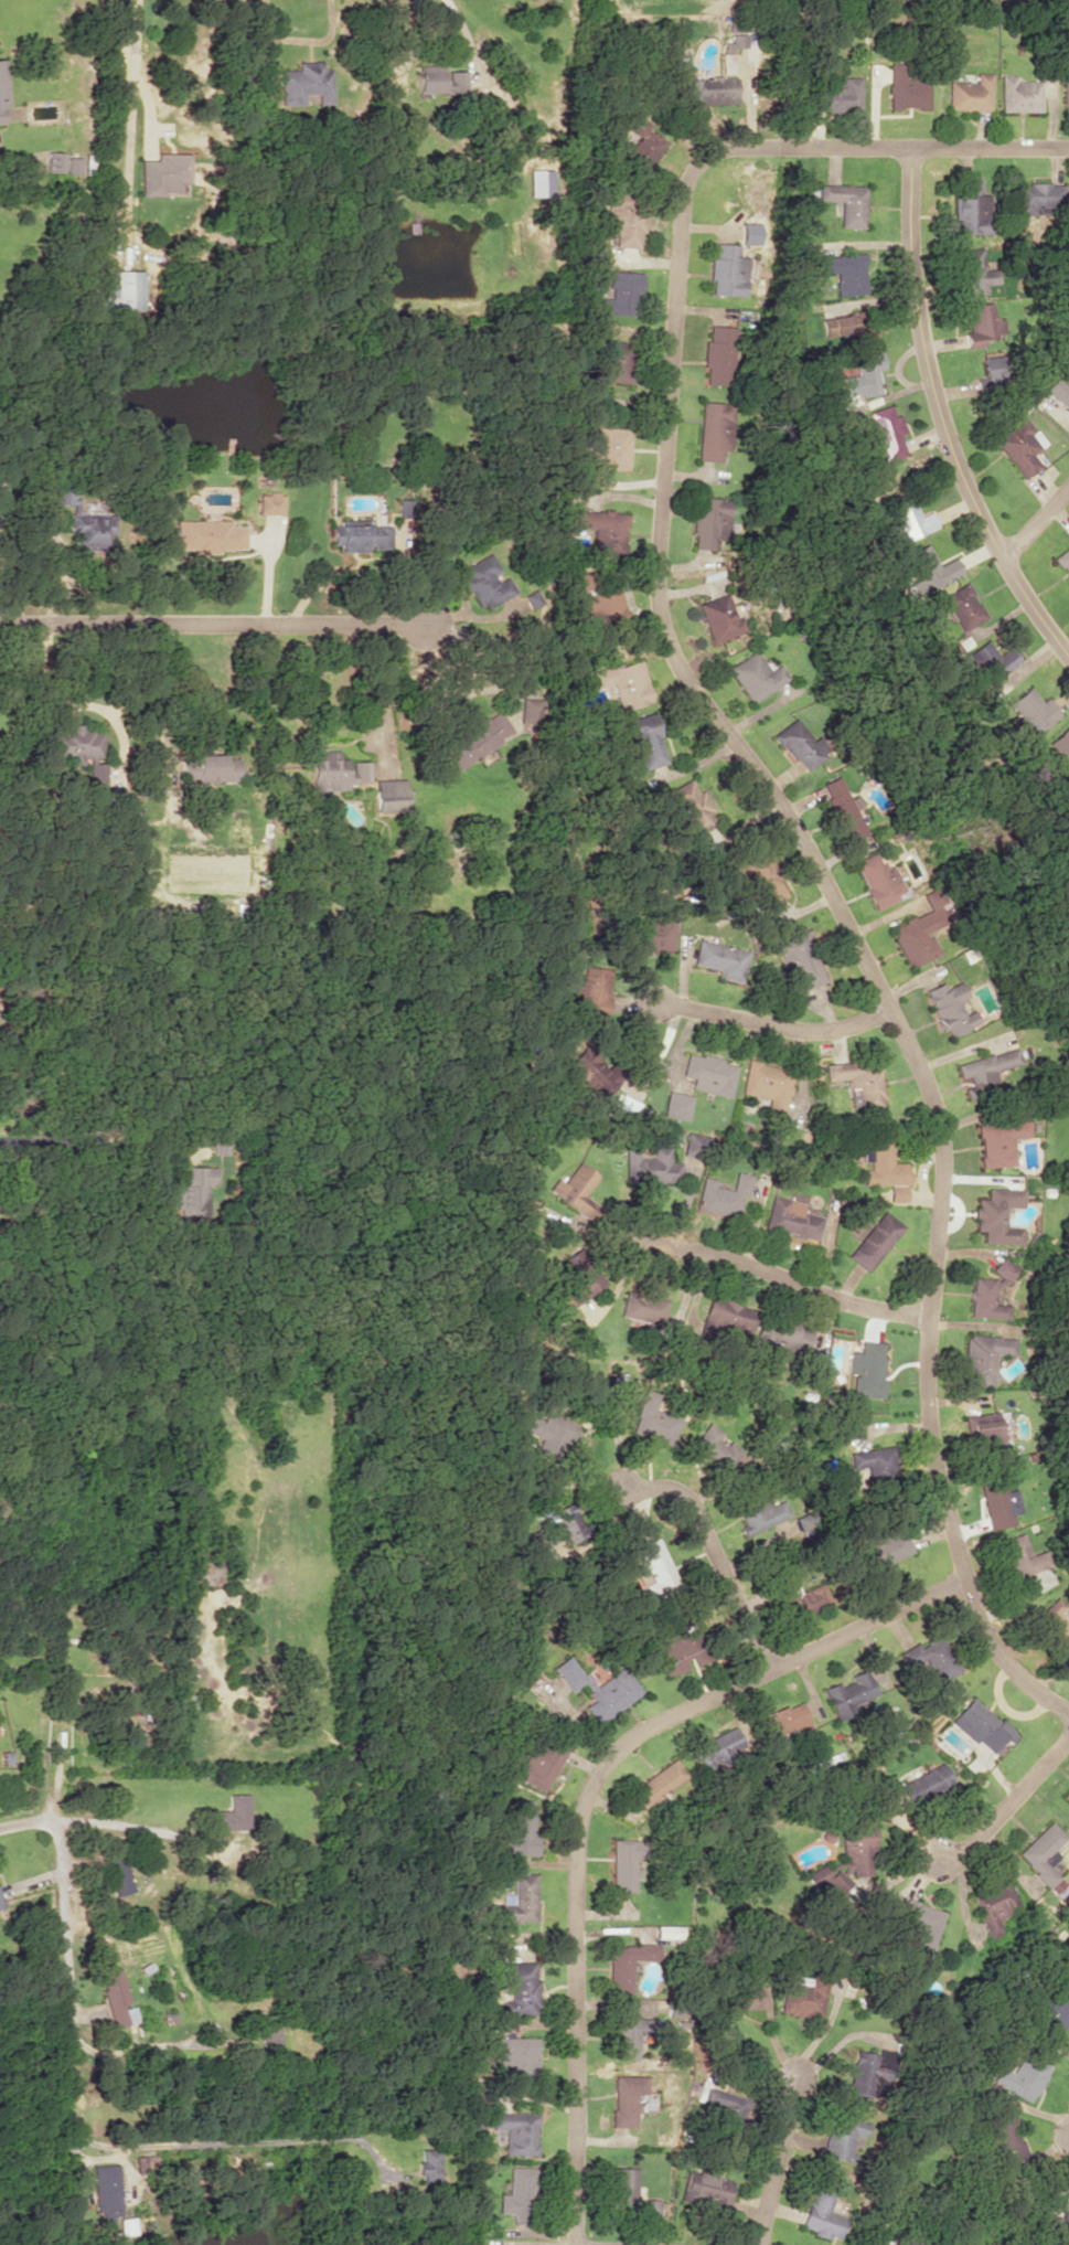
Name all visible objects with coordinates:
building: (441, 81)
building: (304, 83)
building: (907, 87)
building: (708, 92)
building: (2, 93)
building: (971, 93)
building: (1065, 93)
building: (834, 94)
building: (1018, 94)
building: (639, 141)
building: (54, 161)
building: (72, 164)
building: (162, 173)
building: (538, 182)
building: (1038, 194)
building: (846, 202)
building: (970, 209)
building: (624, 216)
building: (727, 270)
building: (974, 270)
building: (845, 272)
building: (121, 289)
building: (617, 295)
building: (981, 324)
building: (851, 328)
building: (719, 354)
building: (613, 361)
building: (995, 371)
building: (863, 375)
building: (1058, 392)
road: (939, 418)
building: (714, 429)
building: (884, 430)
building: (1020, 446)
building: (608, 449)
building: (1, 483)
building: (269, 502)
building: (82, 515)
building: (910, 519)
building: (710, 521)
road: (1035, 521)
building: (603, 530)
building: (210, 534)
building: (361, 535)
building: (1062, 558)
building: (928, 568)
building: (482, 581)
building: (603, 607)
building: (960, 607)
building: (719, 618)
road: (217, 625)
building: (990, 660)
building: (756, 675)
building: (624, 682)
building: (530, 710)
building: (1030, 710)
building: (643, 738)
building: (475, 740)
building: (73, 742)
building: (800, 744)
building: (1060, 745)
building: (210, 767)
building: (335, 772)
building: (95, 774)
road: (759, 776)
building: (389, 796)
building: (688, 806)
building: (843, 810)
building: (761, 876)
building: (877, 880)
building: (919, 929)
building: (653, 933)
building: (799, 958)
building: (720, 959)
building: (589, 992)
building: (949, 1008)
road: (773, 1026)
building: (983, 1070)
building: (708, 1073)
building: (589, 1074)
building: (857, 1079)
building: (766, 1081)
building: (676, 1105)
building: (217, 1140)
building: (998, 1140)
building: (694, 1143)
building: (650, 1167)
building: (575, 1188)
building: (192, 1192)
building: (721, 1196)
building: (996, 1215)
building: (790, 1217)
building: (874, 1241)
building: (579, 1275)
road: (787, 1281)
building: (988, 1291)
building: (642, 1308)
building: (726, 1317)
building: (782, 1337)
building: (983, 1356)
building: (867, 1369)
building: (653, 1421)
building: (981, 1429)
building: (548, 1432)
building: (713, 1446)
building: (870, 1459)
building: (997, 1502)
building: (760, 1511)
building: (567, 1522)
building: (883, 1551)
road: (715, 1552)
building: (1018, 1556)
building: (654, 1561)
building: (800, 1597)
building: (1052, 1621)
building: (678, 1652)
building: (931, 1659)
building: (597, 1689)
building: (847, 1692)
building: (781, 1722)
building: (981, 1726)
building: (715, 1746)
building: (541, 1763)
building: (655, 1783)
building: (922, 1784)
building: (1066, 1795)
road: (582, 1798)
road: (1007, 1799)
building: (228, 1813)
building: (520, 1830)
building: (1041, 1852)
building: (623, 1863)
building: (118, 1875)
building: (514, 1901)
building: (0, 1904)
building: (994, 1906)
building: (921, 1925)
building: (666, 1930)
building: (628, 1964)
road: (63, 1966)
building: (741, 1987)
building: (519, 1988)
building: (804, 1994)
building: (116, 1998)
building: (1050, 2021)
building: (632, 2033)
building: (268, 2036)
building: (516, 2055)
building: (864, 2071)
building: (1020, 2076)
building: (622, 2102)
building: (723, 2111)
building: (514, 2131)
building: (1004, 2136)
building: (841, 2137)
road: (776, 2159)
building: (143, 2163)
building: (426, 2164)
building: (623, 2183)
building: (705, 2189)
building: (105, 2190)
building: (516, 2192)
building: (648, 2207)
building: (821, 2215)
building: (865, 2243)

